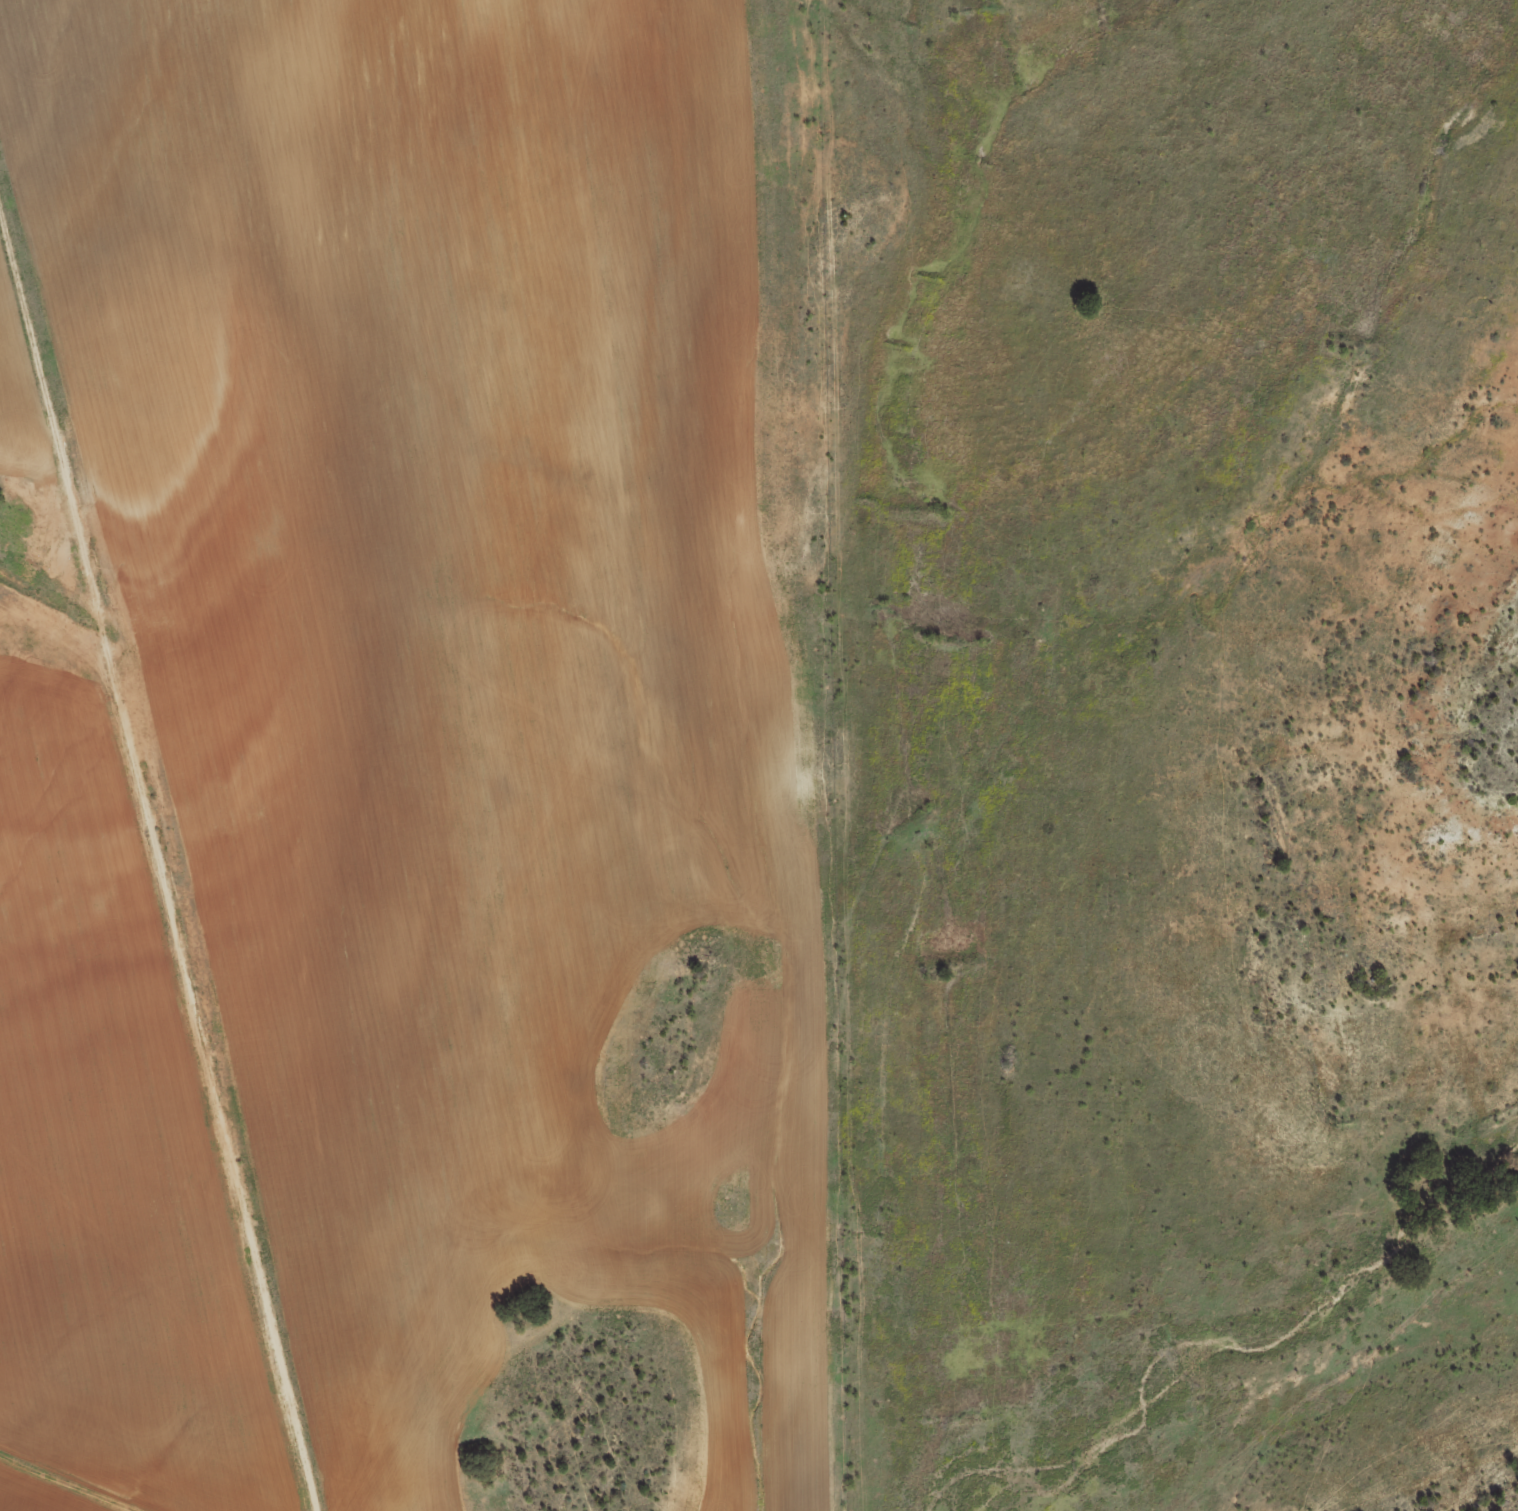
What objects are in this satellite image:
road: (104, 842)
road: (1462, 1494)

